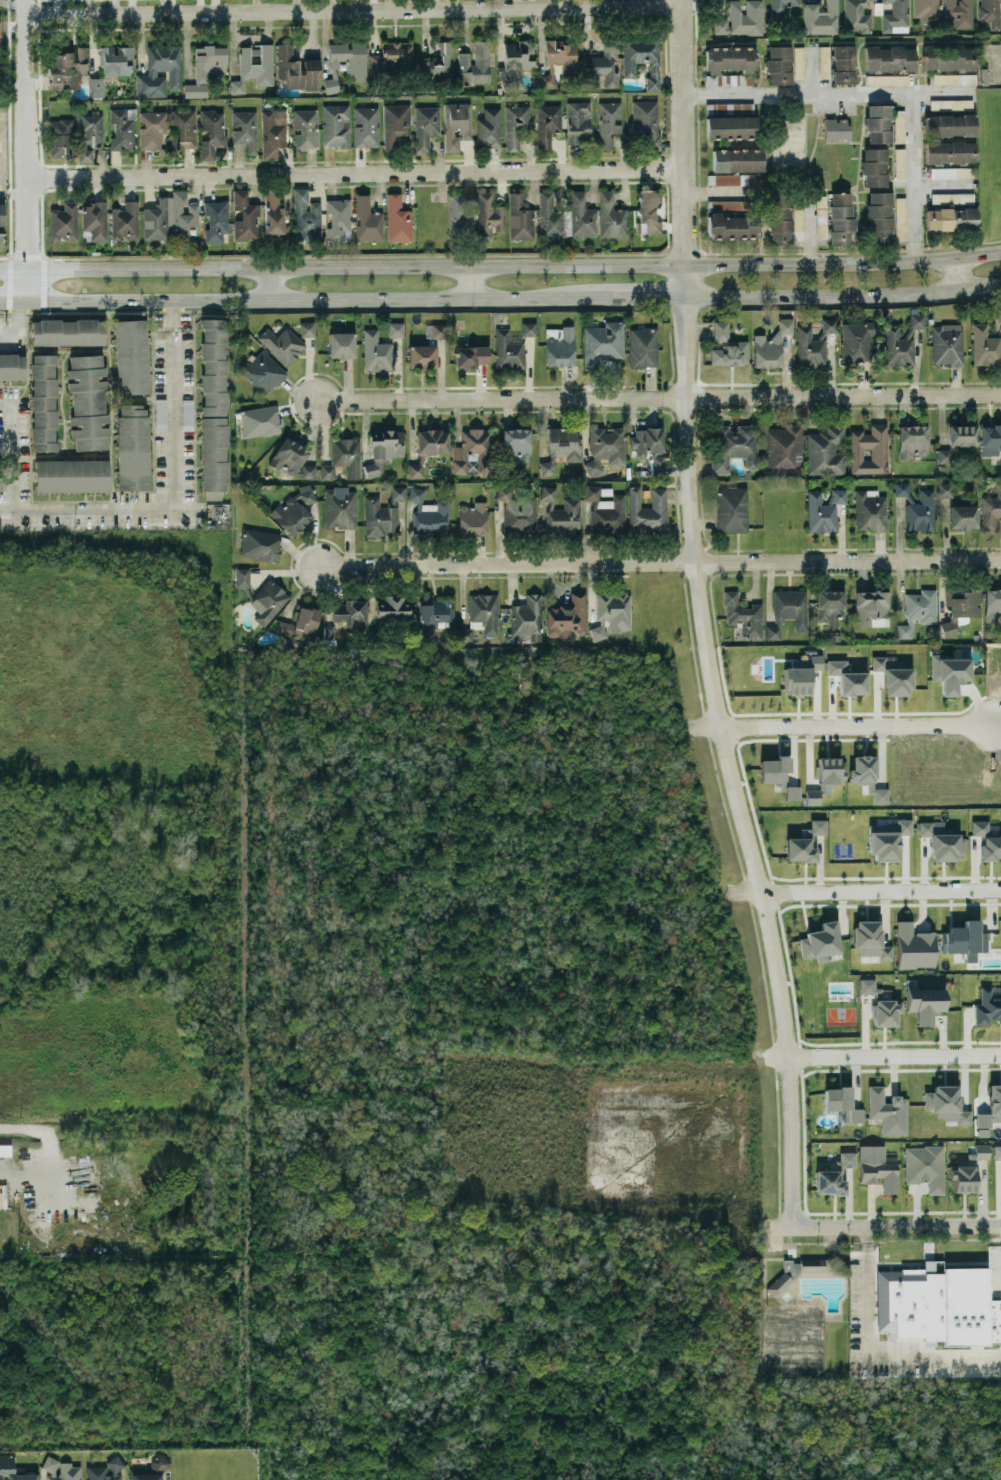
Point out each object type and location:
building: (782, 5)
road: (353, 9)
building: (927, 10)
building: (960, 12)
building: (989, 12)
building: (896, 15)
building: (857, 16)
building: (821, 18)
building: (741, 19)
building: (393, 57)
building: (949, 57)
building: (350, 58)
building: (517, 58)
building: (890, 58)
building: (642, 59)
building: (116, 60)
building: (824, 61)
building: (559, 62)
building: (799, 62)
building: (439, 63)
building: (475, 64)
building: (779, 64)
building: (843, 64)
building: (729, 65)
building: (254, 66)
building: (67, 68)
building: (601, 68)
building: (206, 69)
building: (296, 69)
building: (155, 70)
building: (949, 78)
building: (887, 79)
building: (331, 85)
building: (96, 87)
road: (823, 91)
building: (951, 103)
building: (578, 122)
building: (608, 122)
building: (646, 122)
building: (878, 123)
building: (395, 124)
building: (456, 124)
building: (547, 124)
building: (335, 125)
building: (949, 125)
building: (366, 126)
building: (425, 126)
building: (516, 126)
building: (731, 127)
building: (305, 128)
building: (489, 128)
building: (122, 129)
building: (151, 129)
building: (182, 129)
building: (245, 129)
building: (836, 129)
building: (212, 132)
building: (273, 132)
building: (76, 137)
road: (684, 148)
road: (24, 150)
building: (950, 152)
building: (737, 160)
building: (899, 163)
road: (911, 165)
building: (874, 167)
building: (952, 172)
road: (355, 173)
road: (12, 191)
building: (948, 197)
building: (726, 205)
building: (648, 211)
building: (460, 212)
building: (2, 214)
building: (274, 214)
building: (488, 215)
building: (581, 215)
building: (900, 215)
building: (244, 216)
building: (306, 216)
building: (611, 216)
building: (879, 216)
building: (169, 217)
building: (552, 217)
building: (338, 218)
building: (520, 218)
building: (779, 218)
building: (841, 218)
building: (951, 218)
building: (94, 219)
building: (398, 219)
building: (216, 220)
building: (367, 220)
building: (63, 221)
building: (124, 221)
building: (733, 228)
building: (1, 239)
road: (912, 250)
road: (693, 252)
road: (725, 252)
road: (325, 256)
road: (5, 257)
road: (27, 257)
road: (500, 263)
road: (957, 273)
road: (467, 281)
road: (270, 282)
road: (44, 283)
road: (10, 284)
road: (843, 295)
road: (638, 296)
road: (305, 297)
road: (10, 300)
road: (588, 306)
road: (92, 310)
road: (5, 312)
building: (998, 315)
building: (917, 320)
road: (20, 325)
building: (828, 325)
building: (527, 327)
building: (307, 328)
building: (396, 329)
building: (439, 330)
building: (721, 330)
building: (68, 332)
building: (857, 340)
building: (280, 343)
building: (602, 343)
building: (341, 344)
building: (771, 344)
building: (947, 344)
building: (559, 345)
building: (642, 346)
building: (985, 346)
building: (898, 347)
building: (810, 348)
building: (375, 351)
building: (507, 352)
building: (730, 353)
building: (469, 355)
building: (131, 356)
building: (421, 356)
building: (12, 366)
building: (262, 370)
road: (659, 396)
building: (88, 401)
building: (43, 402)
road: (176, 404)
building: (213, 407)
building: (160, 414)
building: (187, 414)
road: (14, 416)
building: (258, 420)
building: (962, 434)
building: (990, 439)
building: (912, 440)
building: (432, 441)
road: (7, 442)
building: (516, 446)
building: (734, 446)
building: (560, 447)
building: (650, 447)
building: (605, 448)
building: (384, 449)
building: (783, 450)
building: (869, 450)
building: (826, 451)
building: (132, 452)
building: (473, 452)
building: (945, 455)
building: (343, 458)
building: (294, 460)
building: (416, 470)
building: (71, 474)
road: (14, 477)
building: (1, 479)
building: (901, 488)
building: (945, 489)
building: (398, 493)
building: (340, 507)
building: (605, 508)
building: (647, 509)
building: (731, 509)
building: (824, 509)
building: (991, 509)
building: (294, 510)
building: (870, 510)
road: (101, 511)
building: (517, 511)
building: (921, 512)
building: (562, 513)
building: (429, 514)
building: (963, 516)
building: (379, 517)
building: (473, 519)
building: (260, 544)
road: (661, 561)
building: (242, 576)
building: (268, 601)
building: (963, 602)
building: (992, 605)
building: (392, 606)
building: (829, 606)
building: (870, 606)
building: (614, 609)
building: (435, 610)
building: (918, 610)
building: (788, 611)
building: (349, 613)
building: (743, 616)
building: (480, 617)
building: (567, 617)
building: (528, 618)
building: (301, 624)
building: (949, 627)
building: (330, 631)
building: (598, 632)
building: (949, 672)
building: (800, 674)
building: (893, 675)
building: (847, 678)
road: (843, 730)
road: (728, 762)
building: (774, 769)
building: (867, 776)
building: (825, 778)
building: (791, 792)
building: (904, 826)
building: (987, 839)
building: (942, 840)
building: (804, 842)
building: (883, 842)
road: (867, 891)
building: (964, 939)
building: (820, 941)
building: (914, 946)
building: (869, 986)
building: (925, 1003)
building: (987, 1007)
building: (885, 1012)
road: (875, 1056)
building: (841, 1102)
building: (946, 1103)
building: (991, 1107)
building: (887, 1110)
building: (981, 1151)
building: (997, 1152)
road: (50, 1156)
building: (925, 1166)
building: (877, 1167)
building: (834, 1175)
building: (963, 1178)
road: (879, 1225)
building: (937, 1304)
road: (870, 1356)
building: (159, 1463)
building: (13, 1469)
building: (61, 1470)
building: (105, 1470)
building: (145, 1476)

